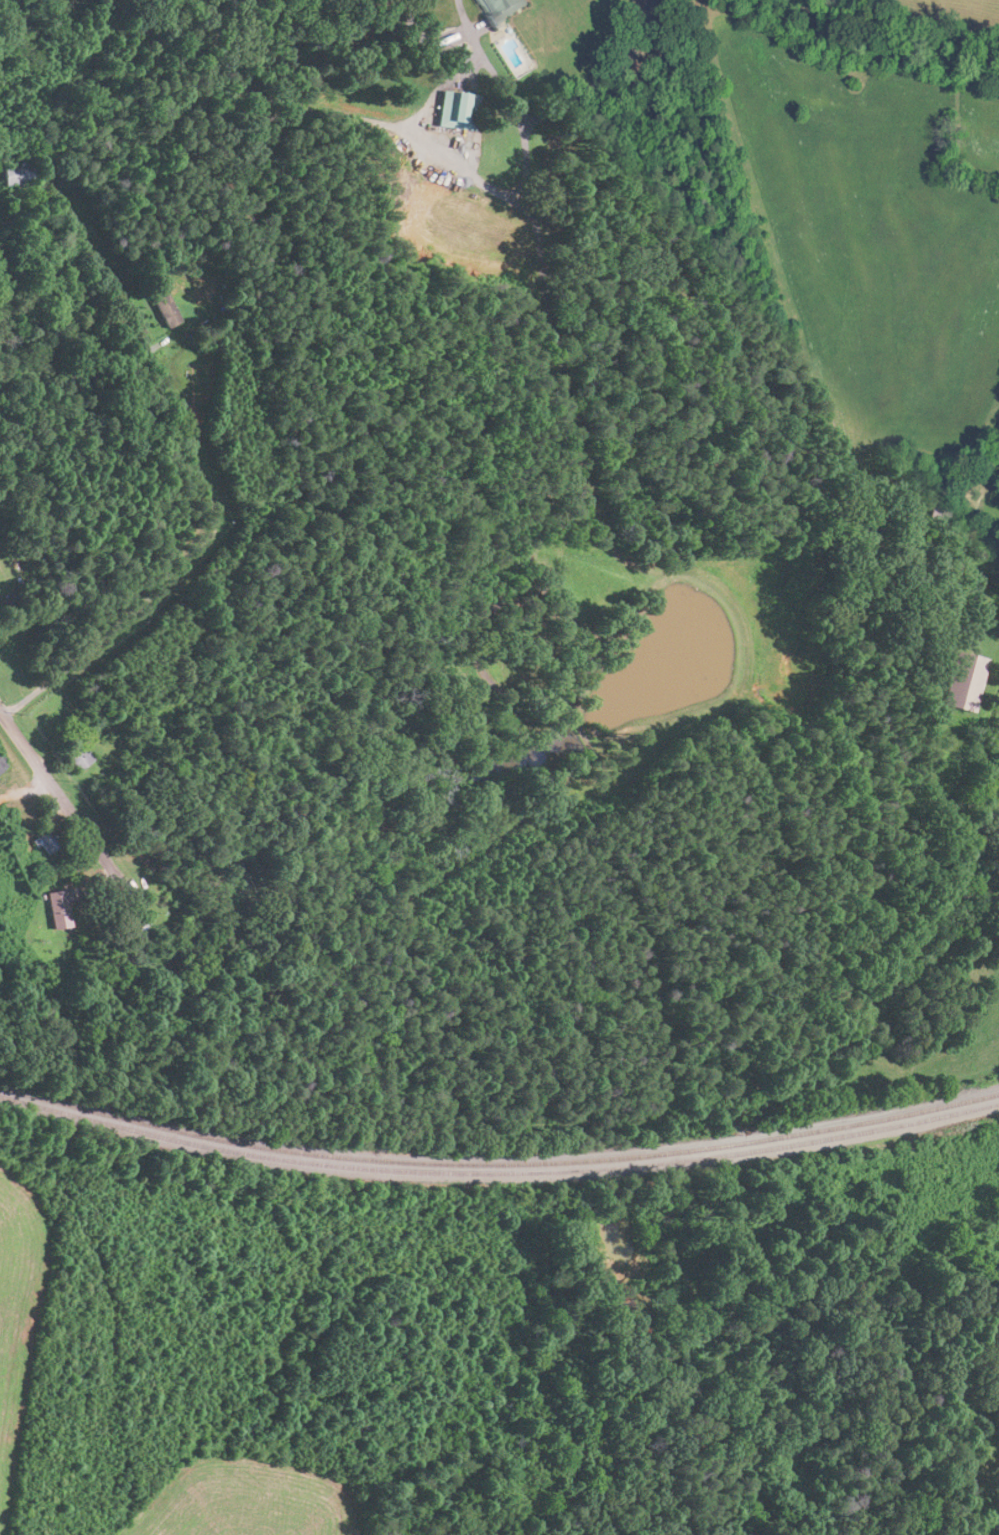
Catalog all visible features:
building: (499, 9)
building: (456, 111)
building: (14, 173)
building: (166, 312)
road: (204, 488)
building: (77, 756)
building: (1, 765)
road: (66, 808)
building: (41, 839)
building: (56, 910)
building: (136, 941)
building: (176, 990)
railway: (498, 1161)

